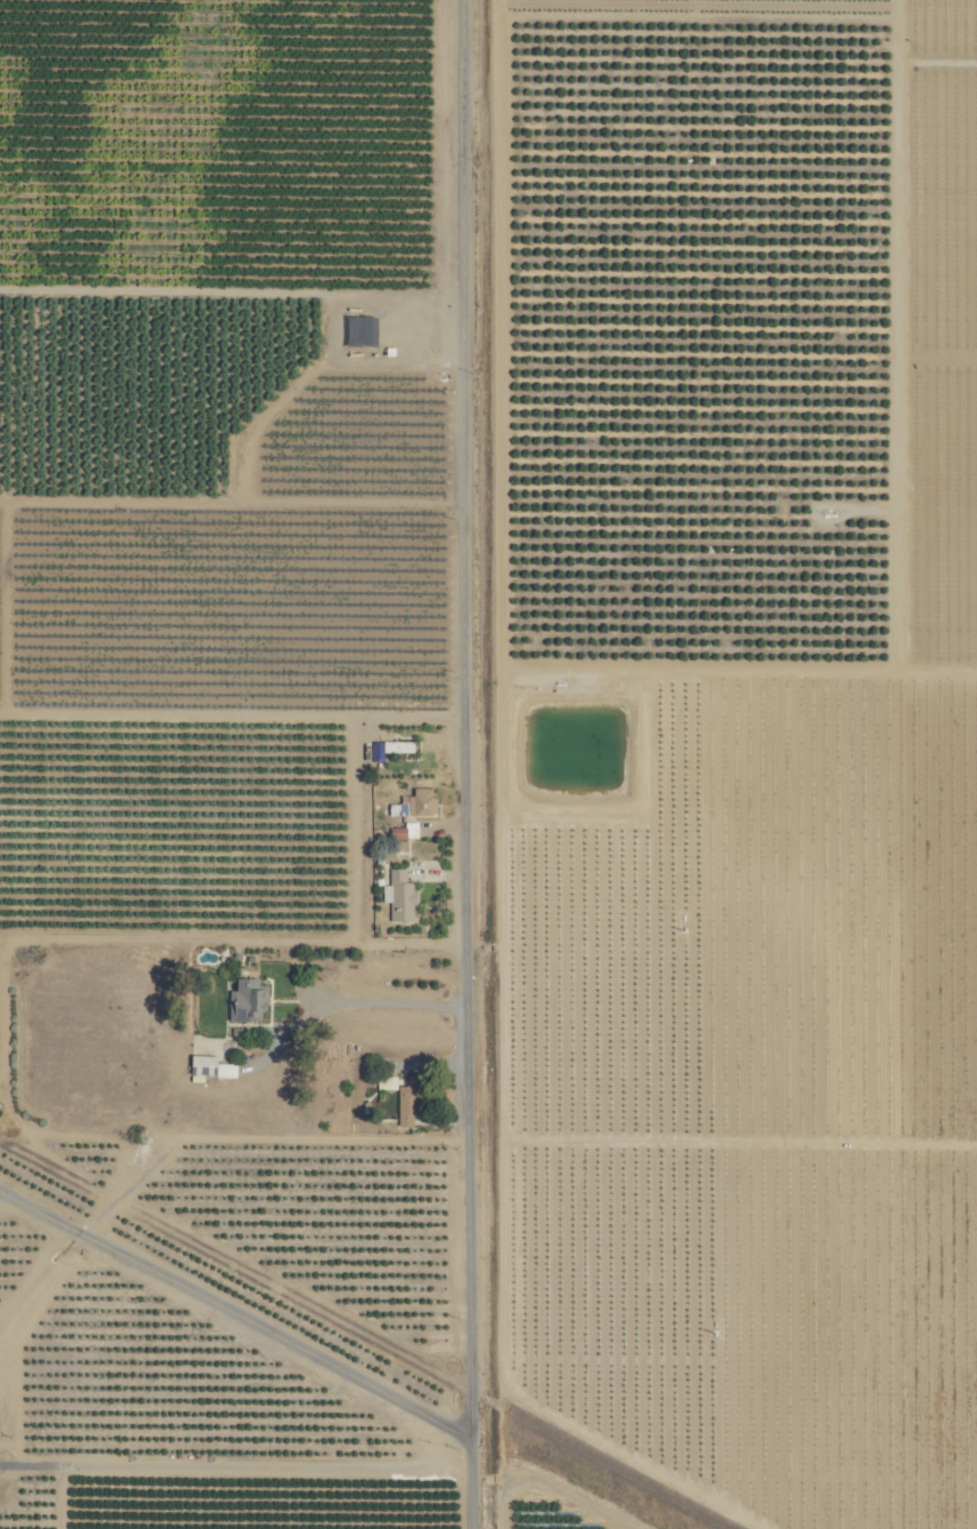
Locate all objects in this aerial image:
building: (387, 748)
road: (461, 764)
crop: (488, 764)
building: (414, 803)
building: (410, 830)
building: (396, 833)
building: (398, 896)
building: (245, 1000)
road: (385, 1006)
building: (208, 1067)
building: (384, 1082)
building: (405, 1106)
road: (235, 1325)
road: (118, 1468)

